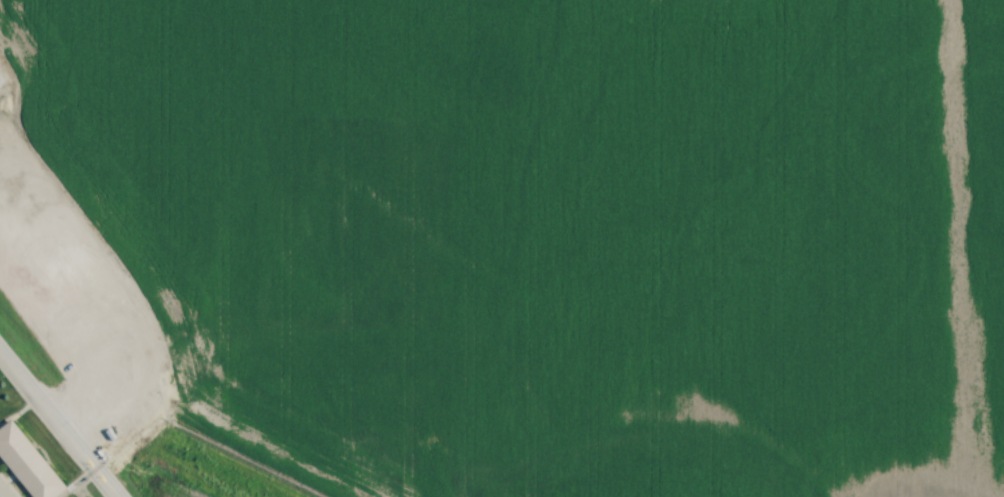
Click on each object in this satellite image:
road: (58, 425)
building: (29, 463)

